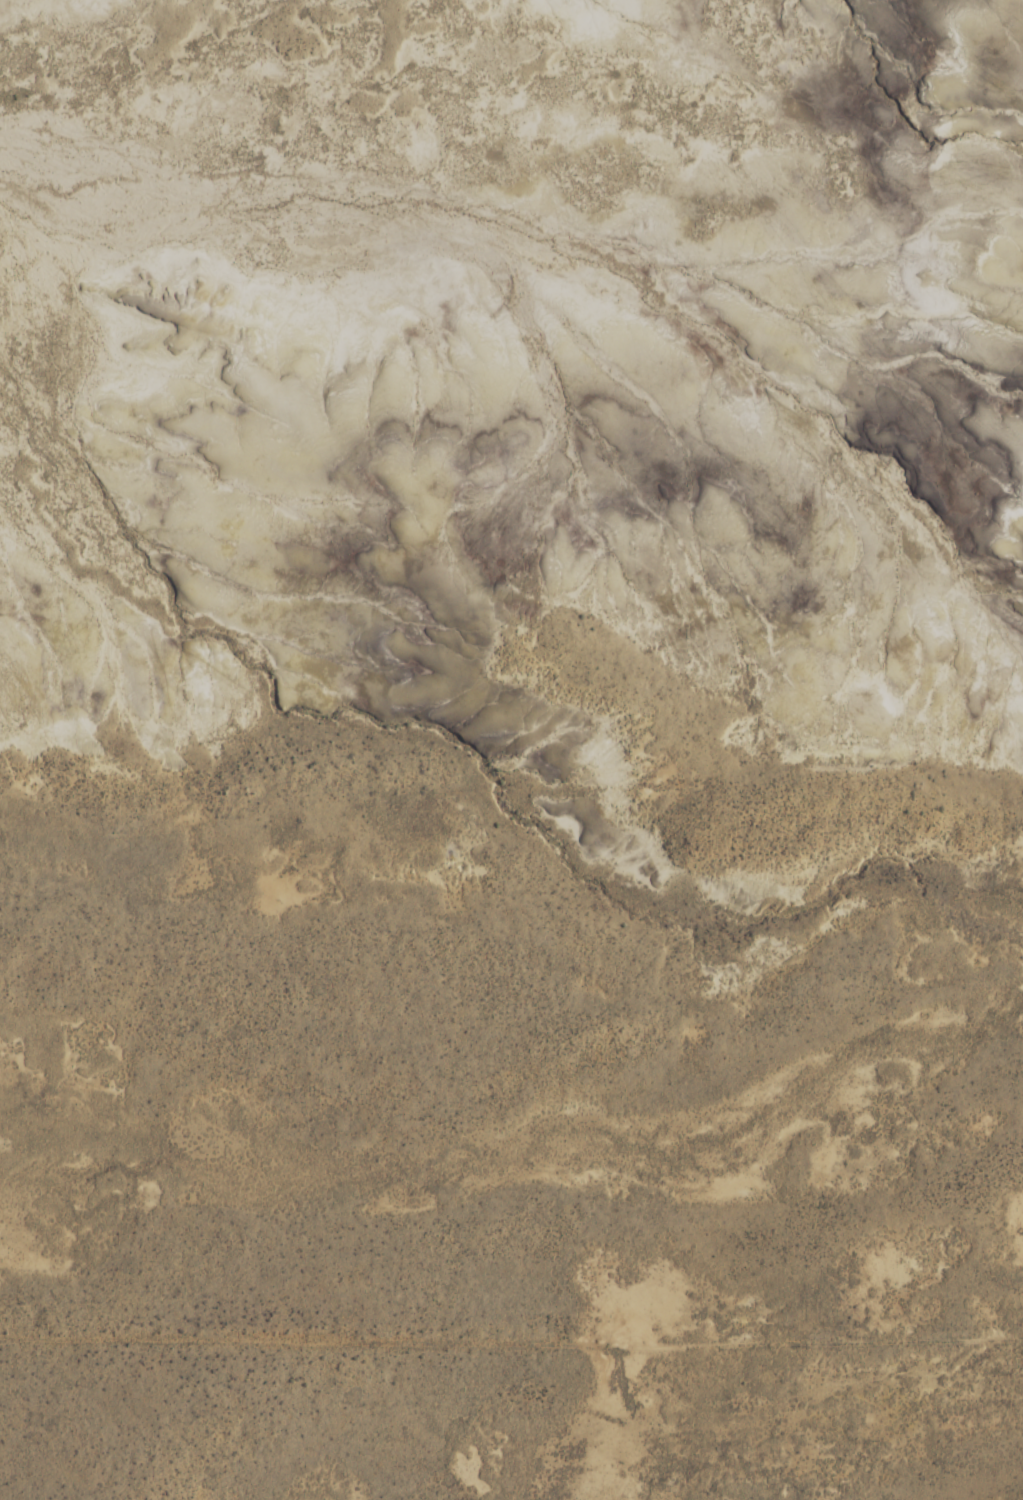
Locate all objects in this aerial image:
road: (511, 1328)

